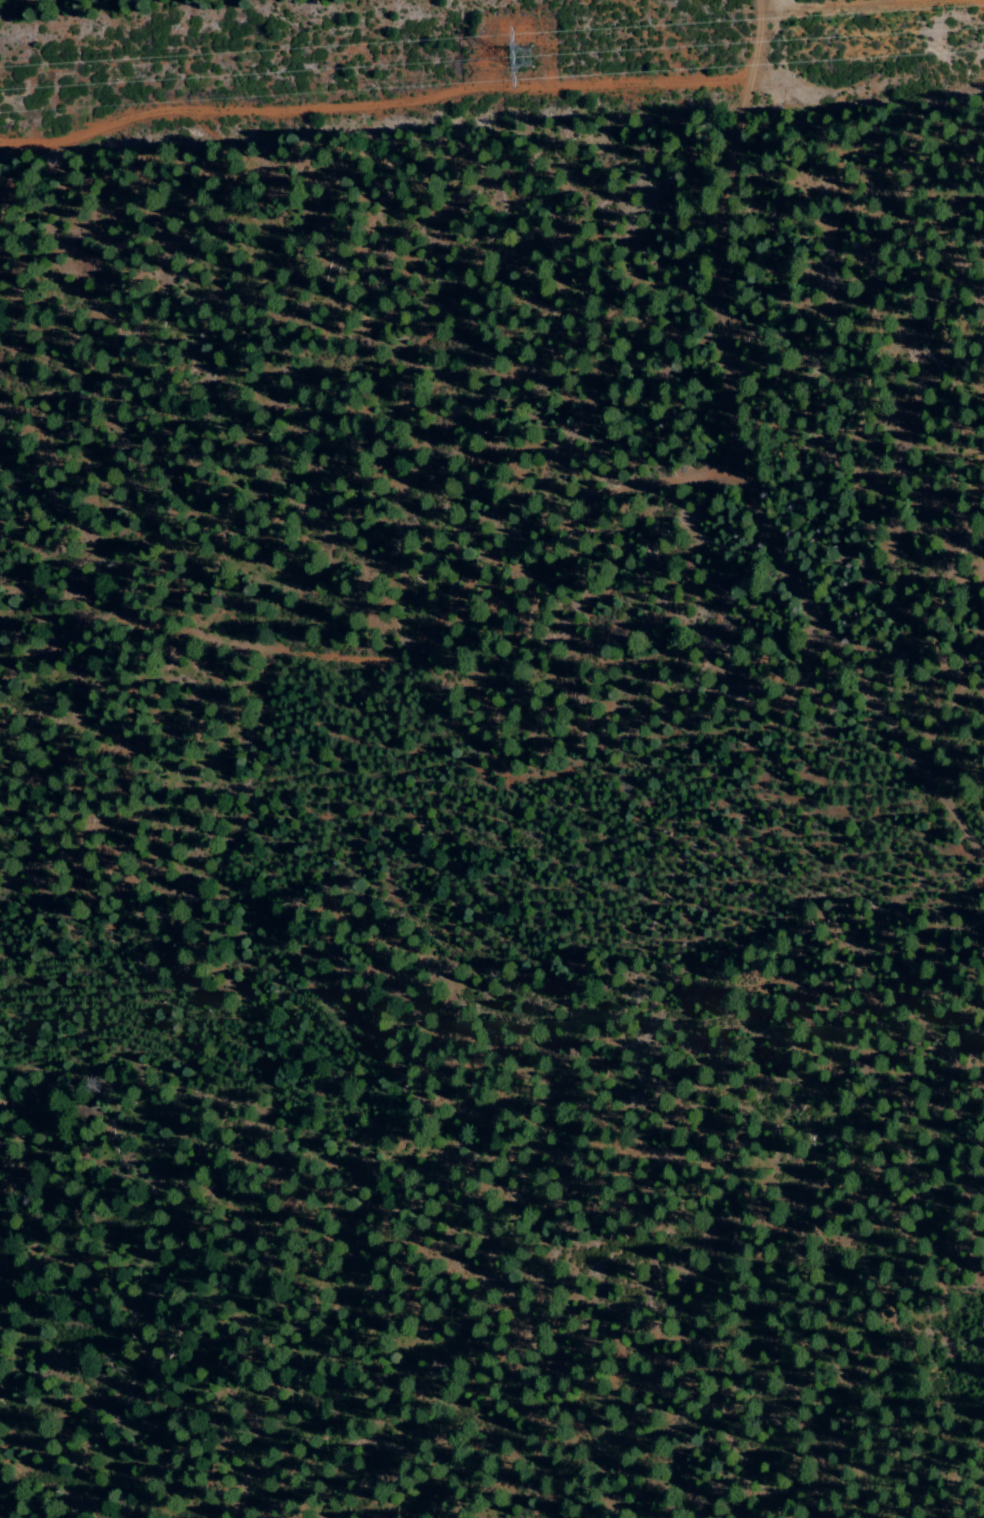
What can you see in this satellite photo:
power tower: (526, 56)
road: (743, 473)

